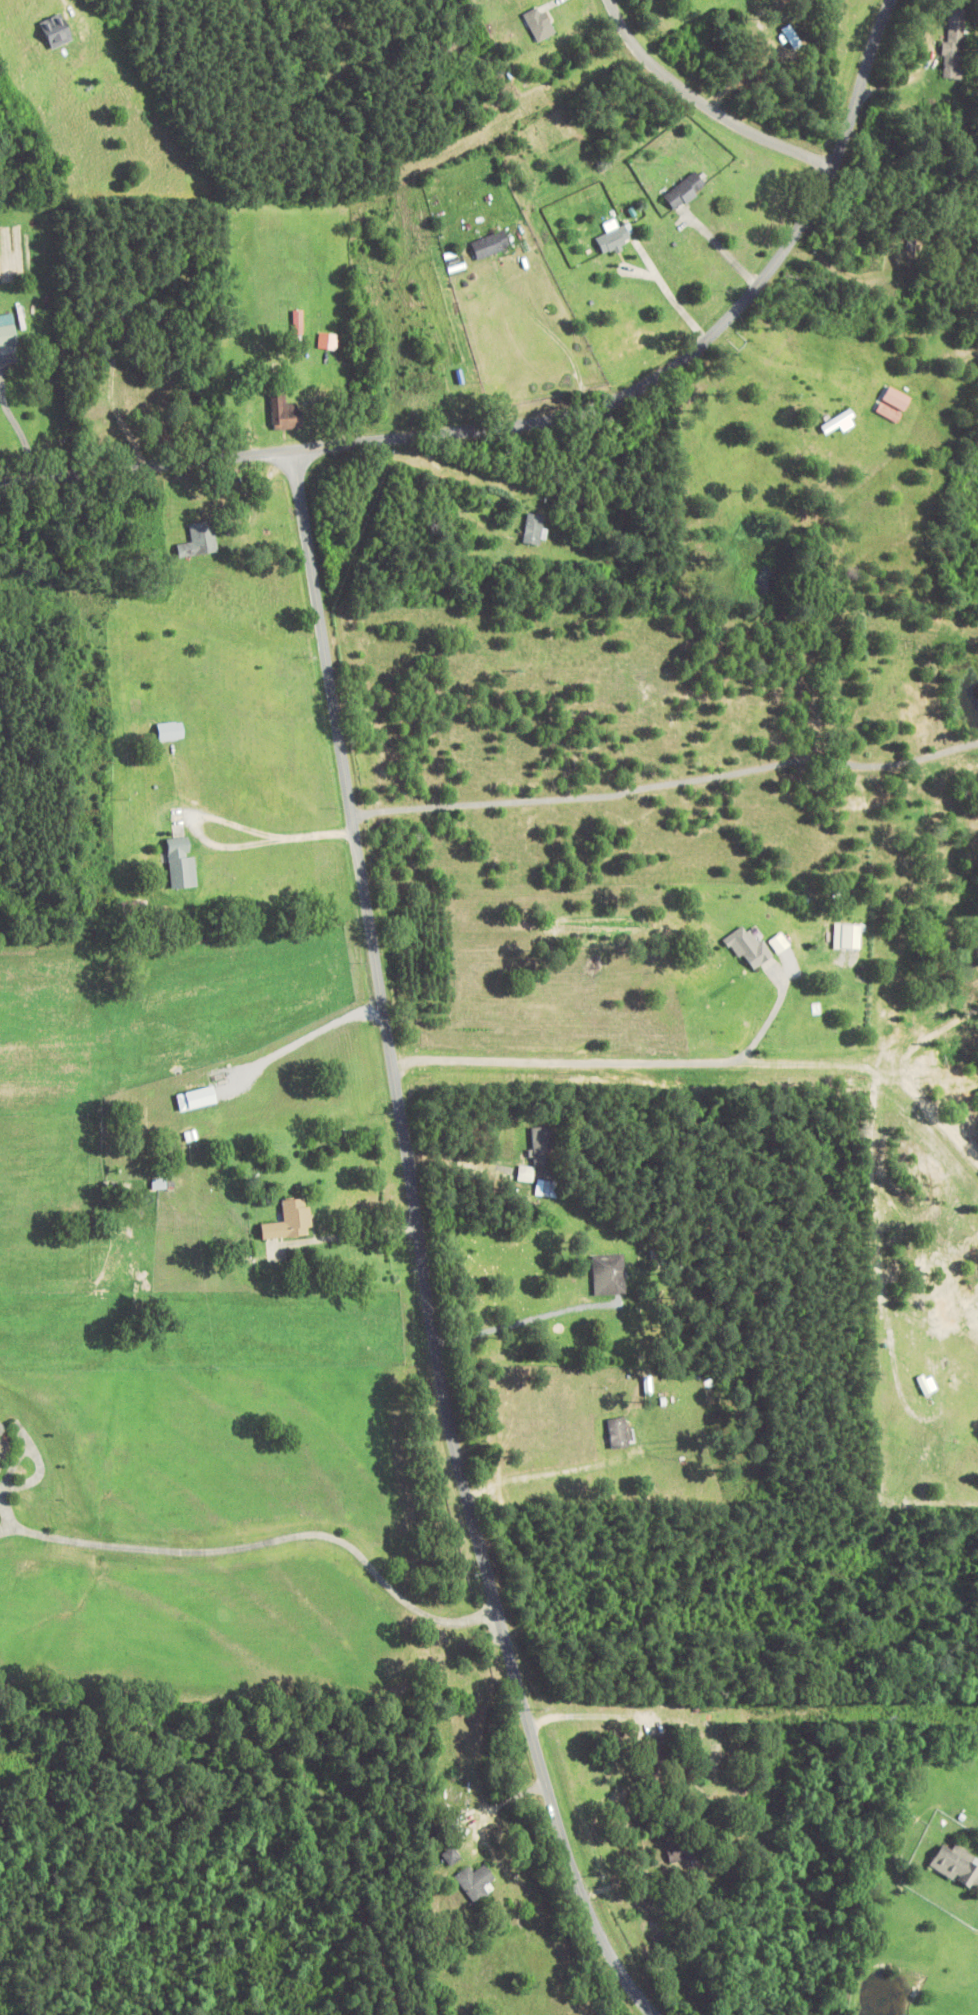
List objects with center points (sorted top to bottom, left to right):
building: (539, 25)
building: (54, 32)
building: (953, 44)
road: (705, 103)
building: (685, 192)
building: (614, 241)
building: (490, 246)
building: (8, 332)
building: (892, 405)
building: (284, 414)
road: (558, 414)
building: (533, 530)
building: (199, 542)
building: (170, 732)
building: (181, 865)
building: (748, 948)
building: (540, 1148)
building: (159, 1185)
building: (290, 1221)
road: (423, 1249)
building: (609, 1276)
building: (932, 1375)
building: (2, 1429)
building: (617, 1434)
building: (655, 1755)
building: (680, 1851)
building: (452, 1857)
building: (955, 1865)
building: (475, 1883)

